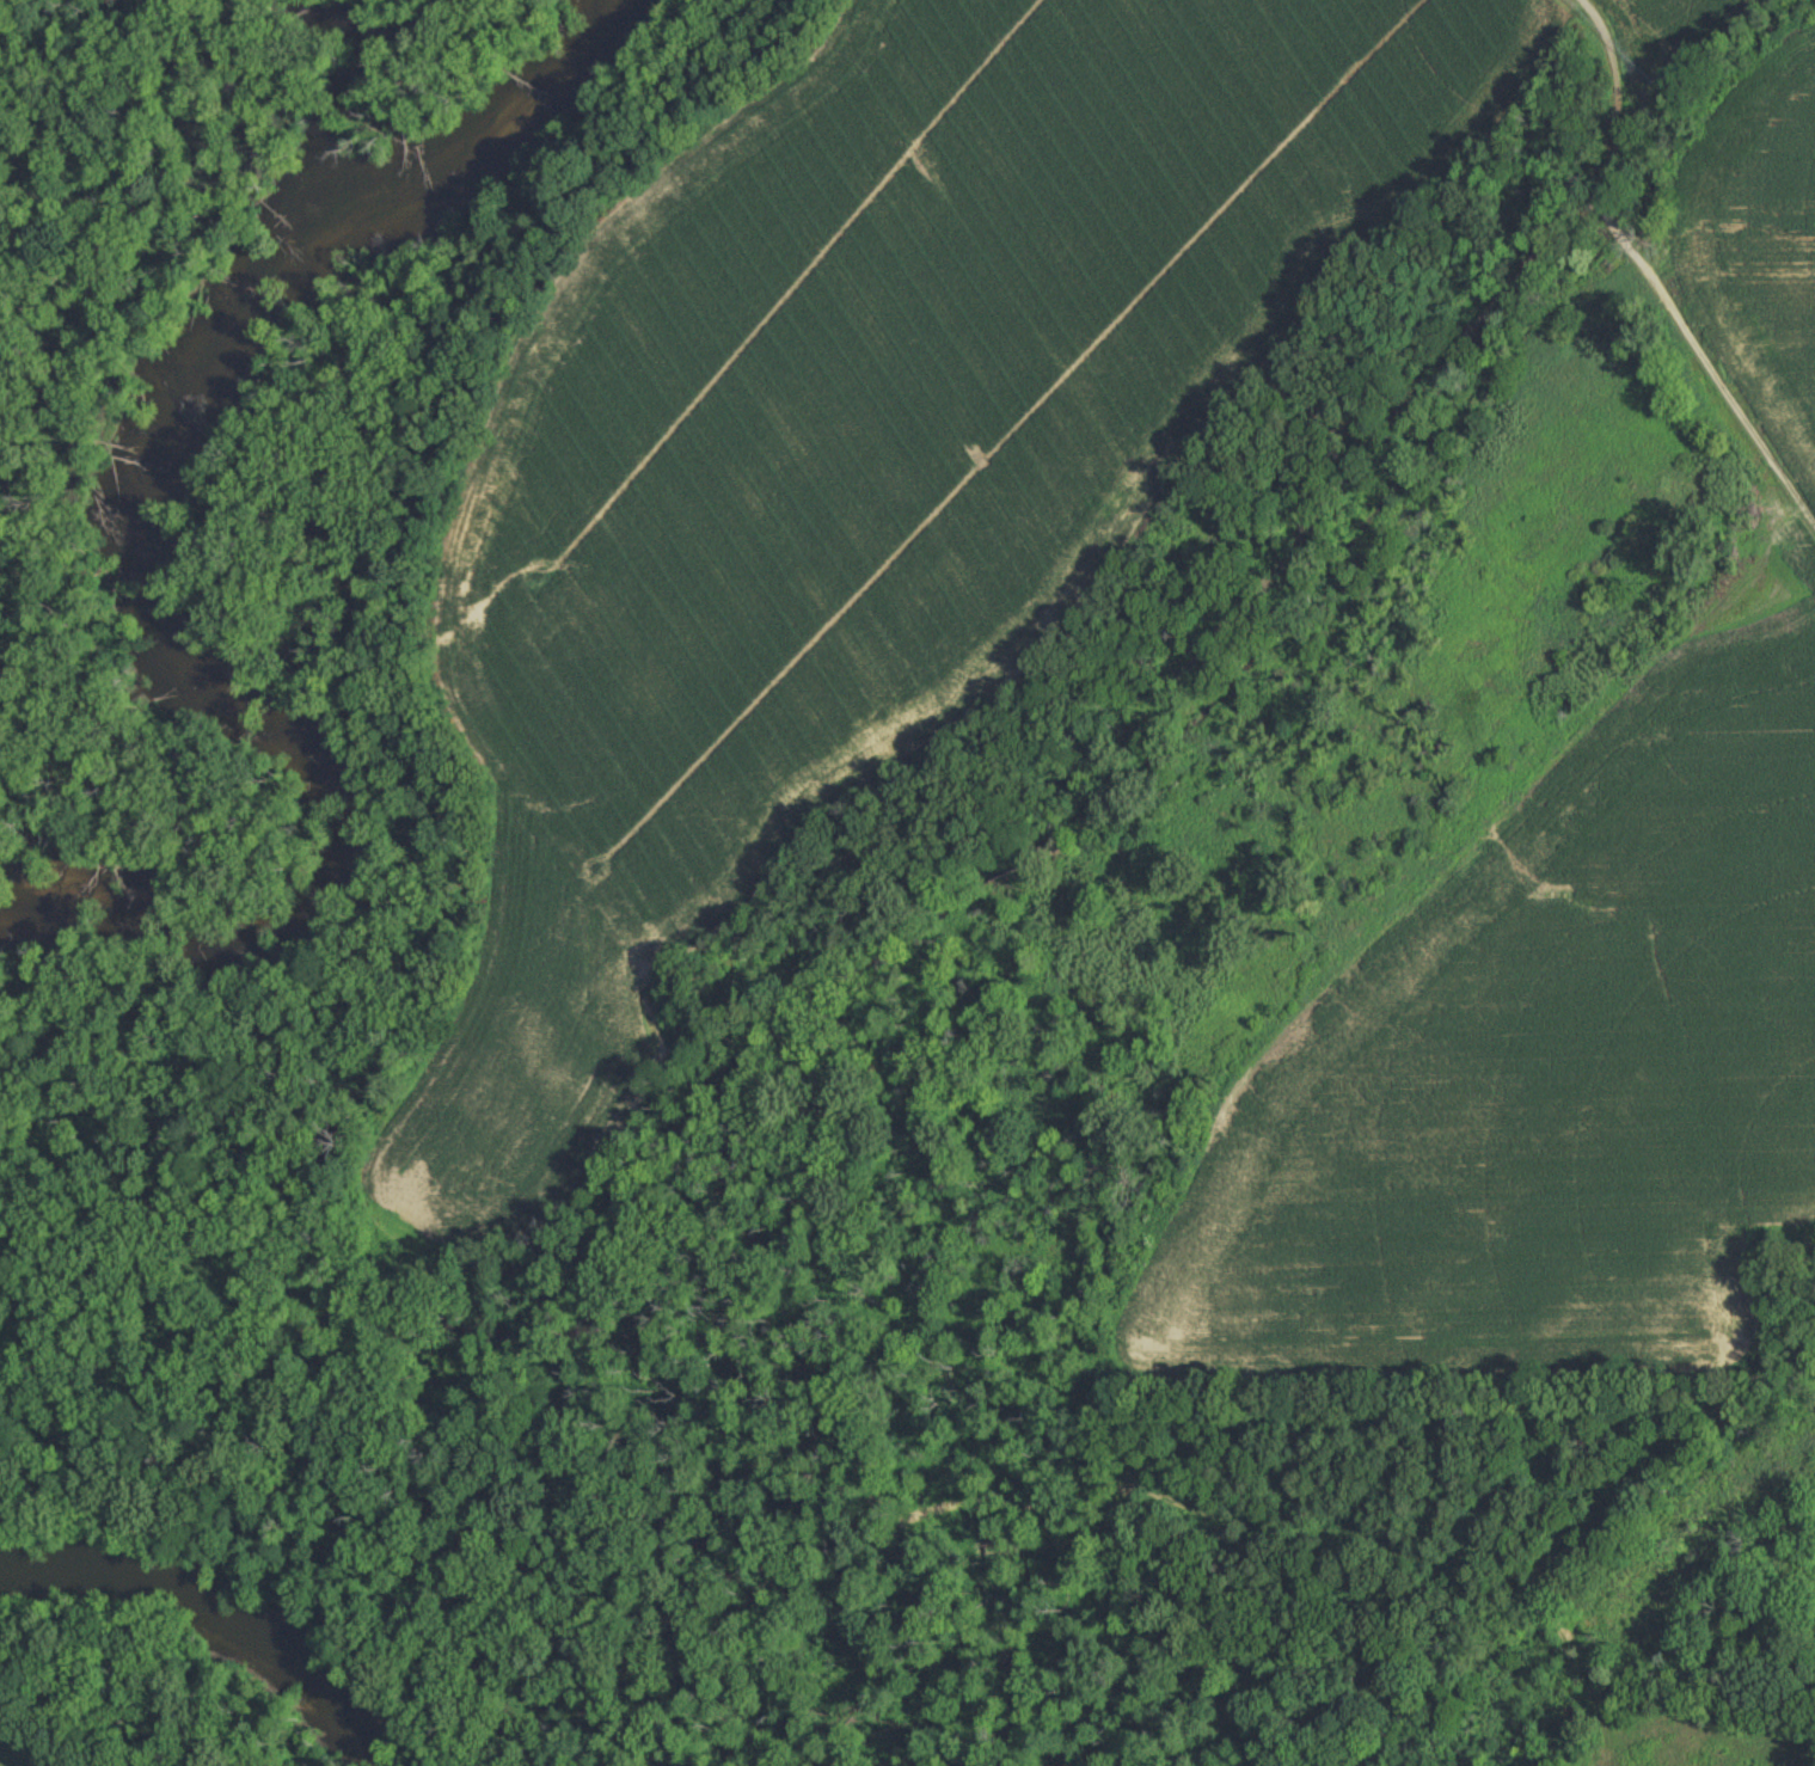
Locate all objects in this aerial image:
river: (147, 569)
river: (214, 1615)

